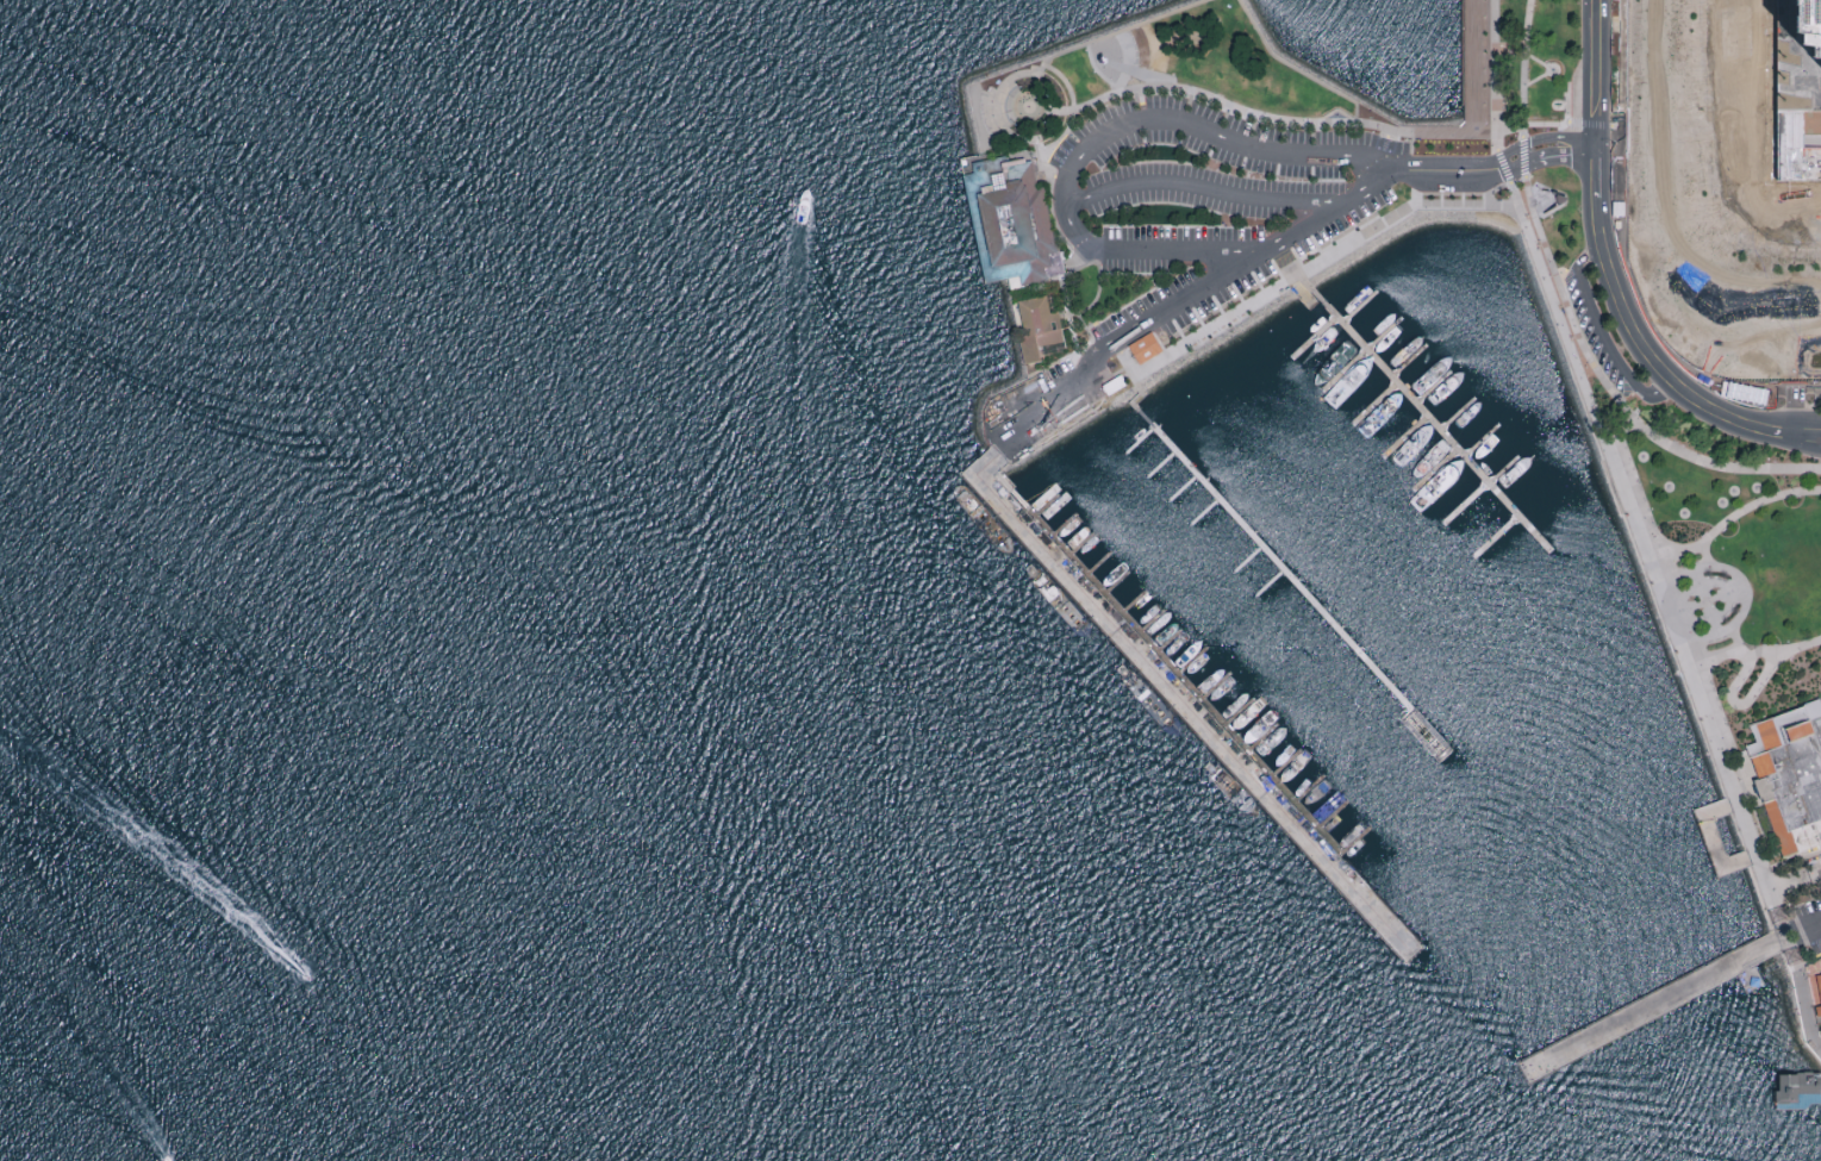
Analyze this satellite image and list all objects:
building: (1815, 24)
road: (1047, 61)
park: (1280, 81)
road: (1604, 81)
road: (1495, 111)
road: (1087, 112)
road: (1122, 126)
road: (1503, 126)
road: (1813, 143)
road: (1515, 151)
road: (1515, 169)
road: (1050, 171)
road: (1604, 181)
road: (1193, 188)
building: (1010, 226)
parking lot: (1186, 230)
road: (1589, 251)
road: (1197, 292)
road: (1084, 312)
road: (1571, 313)
building: (1036, 326)
road: (1602, 333)
building: (1147, 350)
road: (1654, 351)
pier: (1432, 422)
road: (1629, 423)
road: (1808, 424)
road: (1795, 436)
road: (1782, 445)
road: (1672, 549)
park: (1719, 556)
road: (1726, 569)
pier: (1281, 572)
road: (1684, 572)
road: (1658, 593)
road: (1703, 600)
road: (1703, 601)
road: (1688, 622)
road: (1704, 637)
road: (1736, 684)
pier: (1183, 700)
road: (1183, 703)
building: (1791, 776)
pier: (1717, 837)
parking lot: (1810, 924)
road: (1815, 928)
building: (1819, 981)
road: (1664, 1000)
pier: (1648, 1010)
road: (1806, 1012)
building: (1819, 1016)
road: (1816, 1041)
pier: (1798, 1091)
building: (1796, 1093)

